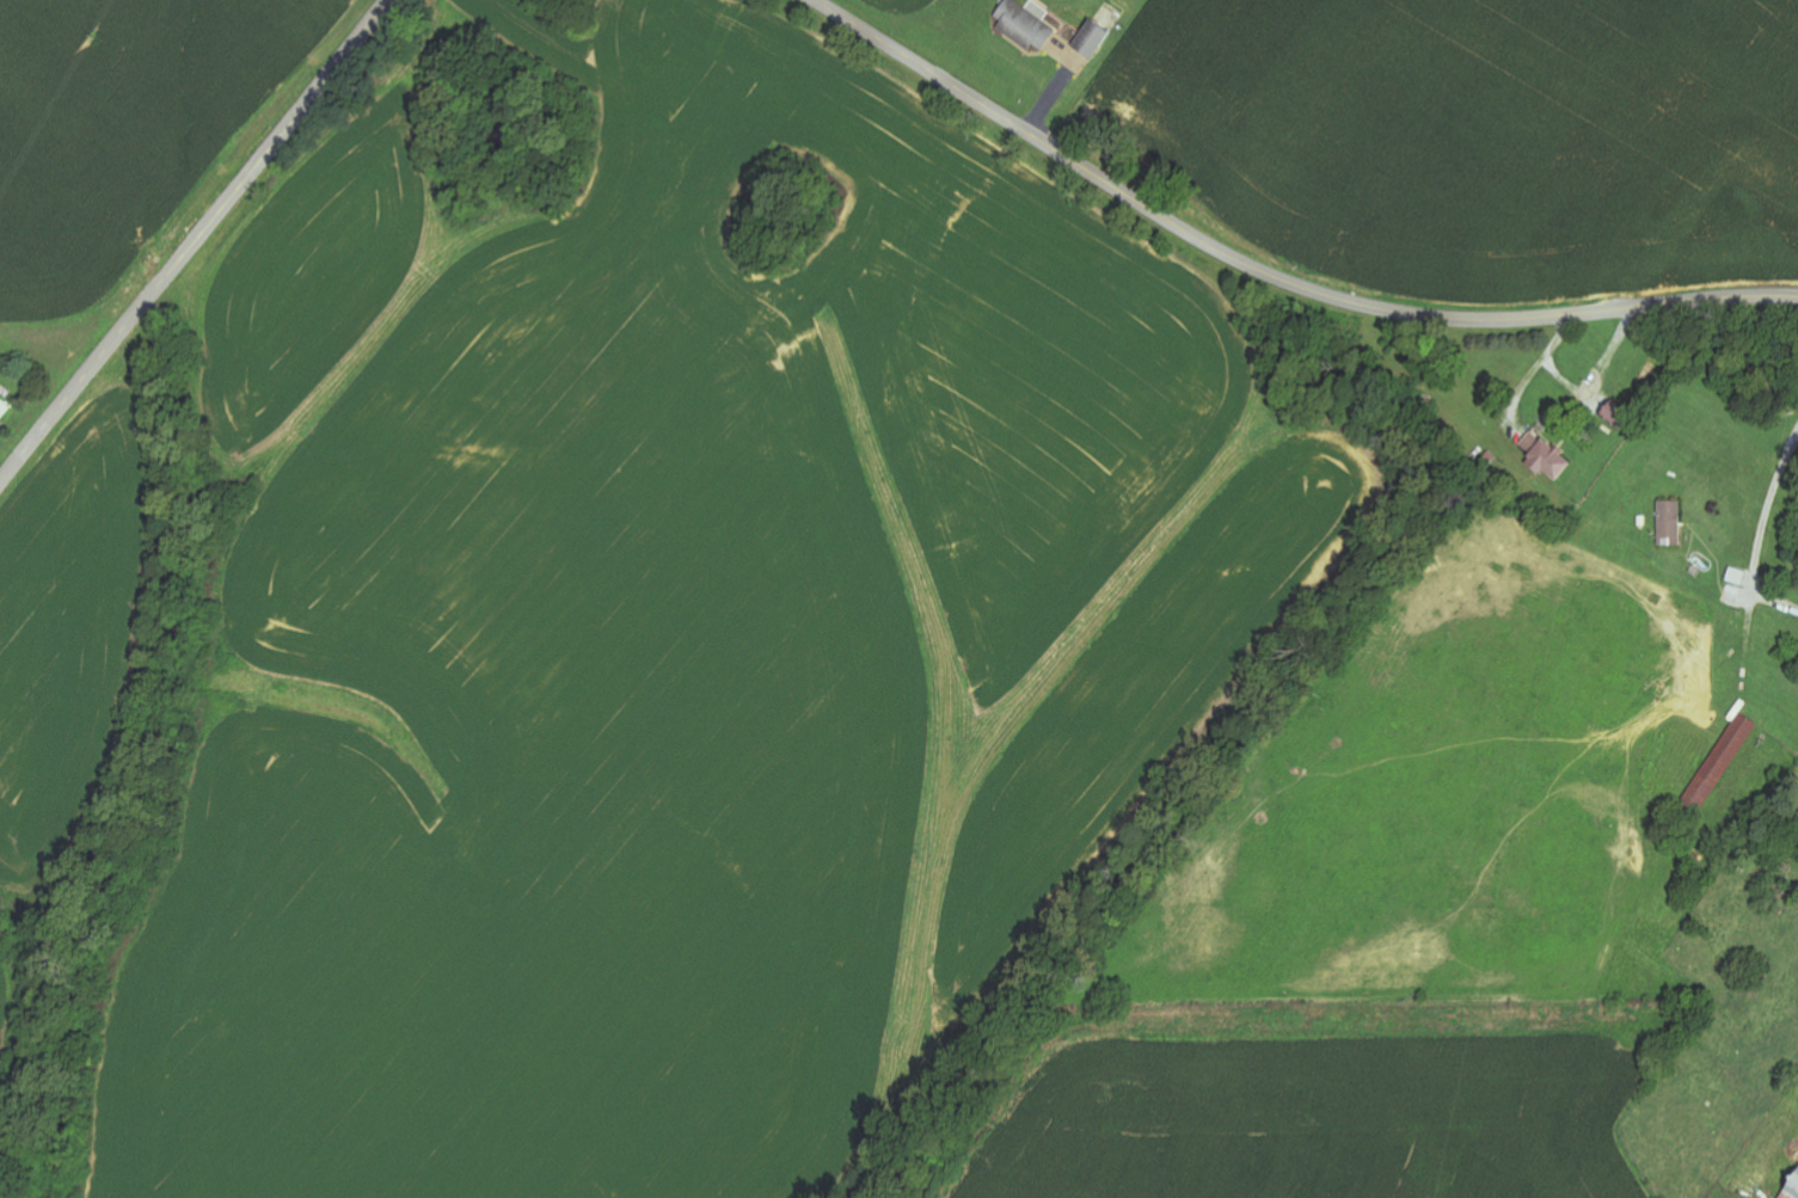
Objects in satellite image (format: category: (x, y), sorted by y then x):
building: (1025, 25)
building: (1092, 41)
road: (196, 241)
road: (1271, 274)
building: (4, 411)
building: (1618, 418)
building: (1545, 457)
road: (1767, 508)
building: (1671, 524)
building: (1723, 760)
building: (1792, 1188)

